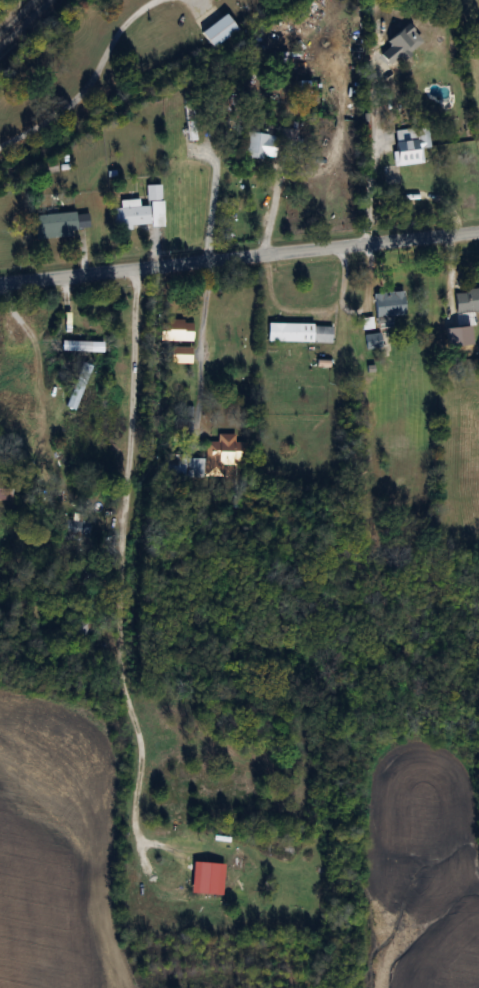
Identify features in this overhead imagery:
railway: (22, 20)
building: (218, 30)
road: (87, 81)
building: (288, 130)
building: (259, 145)
building: (409, 166)
road: (367, 190)
building: (140, 212)
road: (271, 212)
building: (58, 225)
road: (156, 250)
road: (239, 256)
building: (466, 301)
building: (388, 307)
building: (175, 330)
building: (303, 336)
building: (374, 341)
building: (80, 346)
building: (181, 355)
building: (209, 460)
building: (5, 490)
building: (73, 528)
road: (119, 582)
building: (78, 629)

